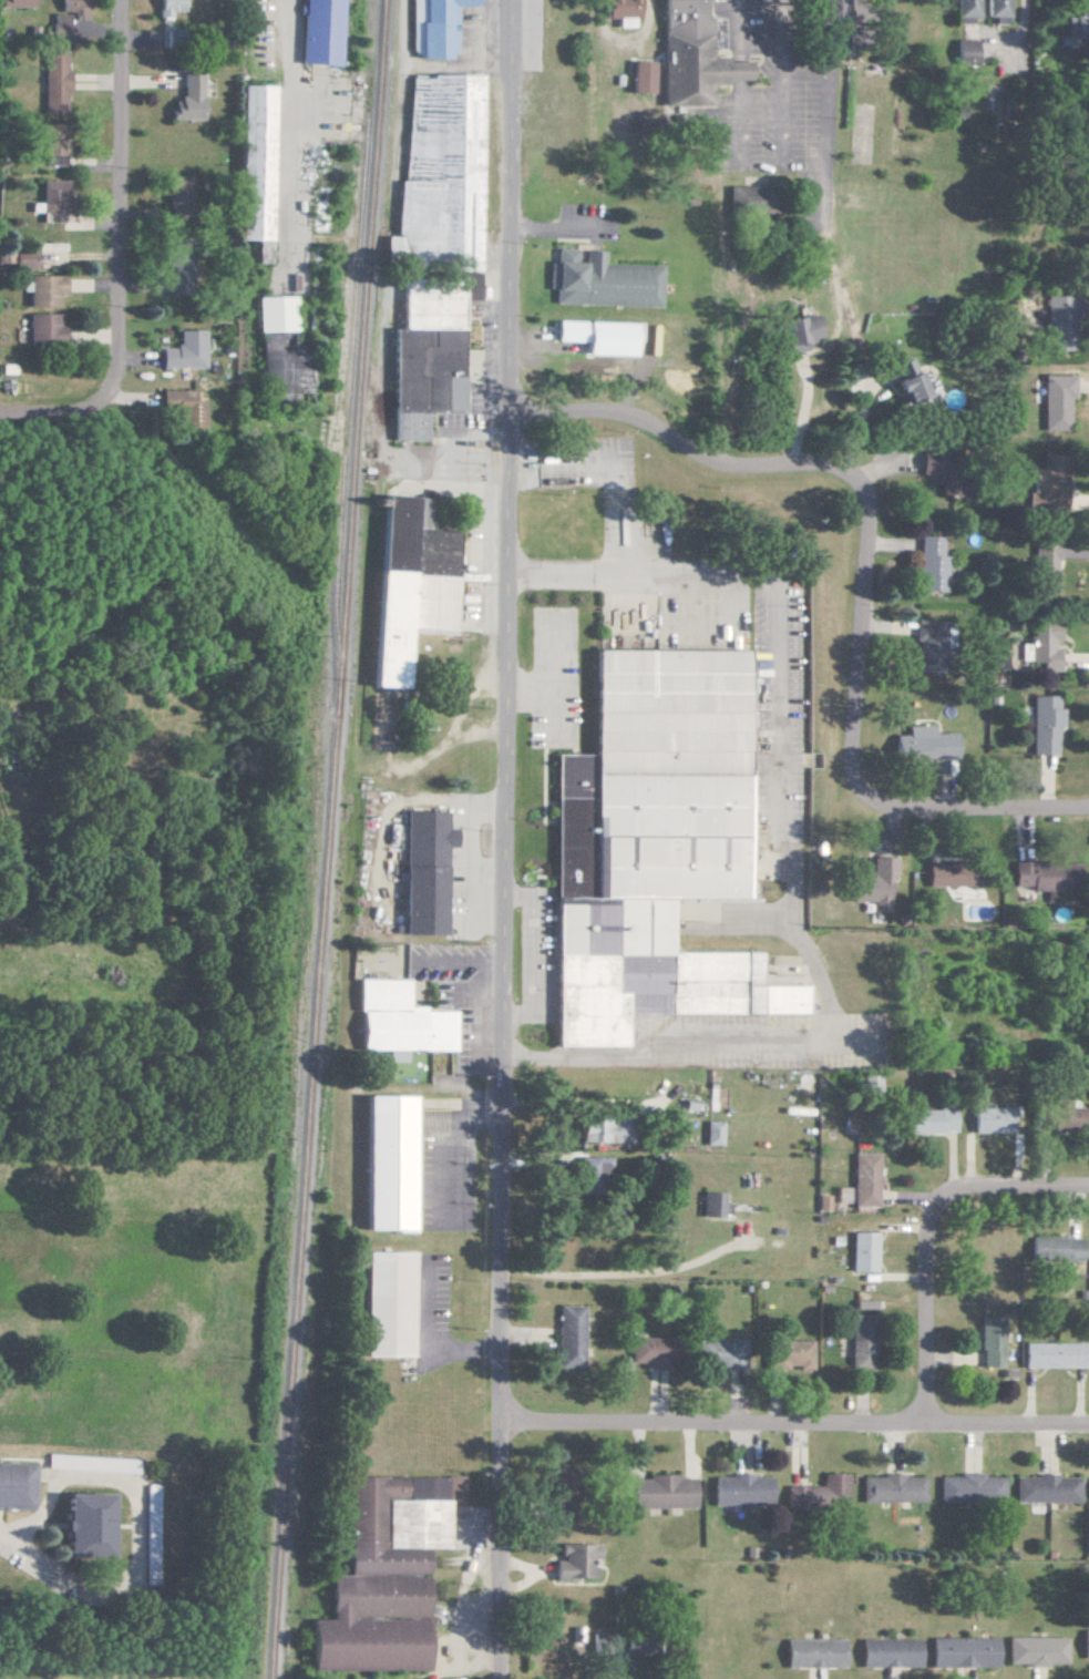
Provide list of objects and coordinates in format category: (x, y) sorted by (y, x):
building: (14, 2)
building: (166, 7)
building: (72, 8)
building: (828, 10)
building: (965, 10)
building: (996, 10)
building: (620, 12)
building: (56, 25)
building: (1076, 25)
building: (433, 27)
building: (318, 32)
building: (965, 52)
building: (692, 55)
road: (779, 58)
building: (640, 78)
building: (50, 81)
building: (186, 94)
road: (287, 125)
building: (49, 144)
building: (253, 168)
building: (427, 172)
road: (117, 196)
building: (751, 199)
building: (50, 201)
road: (547, 229)
building: (49, 255)
building: (178, 273)
building: (604, 281)
building: (43, 290)
building: (1057, 323)
building: (43, 329)
building: (801, 331)
building: (597, 337)
building: (276, 348)
building: (183, 351)
building: (425, 356)
building: (908, 380)
building: (1055, 400)
building: (185, 403)
road: (59, 417)
road: (855, 423)
building: (924, 464)
road: (839, 470)
building: (1048, 480)
building: (927, 564)
building: (1042, 565)
road: (634, 570)
building: (409, 583)
building: (926, 644)
building: (1038, 646)
road: (553, 675)
road: (553, 711)
building: (1041, 724)
building: (920, 744)
road: (975, 810)
railway: (323, 839)
road: (505, 839)
building: (651, 846)
road: (468, 848)
building: (424, 871)
building: (948, 876)
building: (1044, 876)
building: (871, 883)
road: (797, 933)
road: (537, 946)
building: (400, 1021)
building: (866, 1082)
building: (1057, 1117)
building: (988, 1120)
building: (927, 1122)
building: (603, 1129)
building: (709, 1133)
road: (468, 1143)
building: (389, 1163)
building: (590, 1175)
building: (861, 1179)
road: (1014, 1187)
building: (840, 1196)
building: (819, 1202)
building: (709, 1205)
building: (1052, 1249)
building: (860, 1251)
road: (627, 1273)
building: (388, 1304)
building: (862, 1304)
road: (927, 1311)
building: (569, 1337)
building: (862, 1342)
building: (989, 1342)
road: (432, 1343)
building: (648, 1352)
building: (710, 1352)
building: (790, 1355)
building: (1051, 1355)
road: (794, 1427)
building: (92, 1464)
building: (13, 1486)
building: (973, 1486)
building: (895, 1487)
building: (1049, 1487)
building: (741, 1491)
building: (661, 1492)
building: (820, 1494)
road: (8, 1526)
building: (85, 1526)
road: (137, 1533)
building: (151, 1534)
building: (576, 1562)
building: (383, 1578)
building: (1087, 1642)
building: (1038, 1649)
building: (965, 1650)
building: (814, 1654)
building: (888, 1654)

